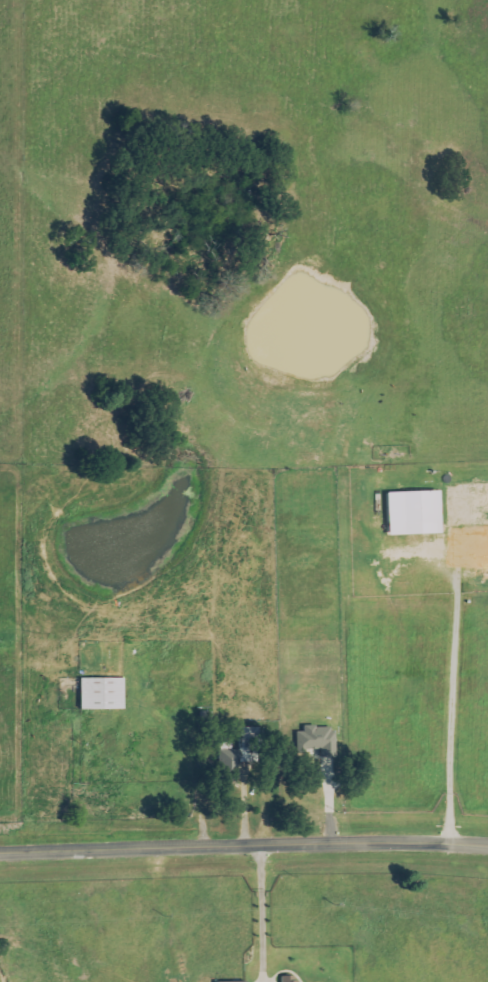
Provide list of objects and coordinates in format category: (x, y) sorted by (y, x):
building: (414, 513)
road: (452, 682)
building: (102, 694)
building: (317, 741)
building: (239, 752)
road: (243, 841)
road: (260, 911)
building: (287, 979)
building: (234, 981)

